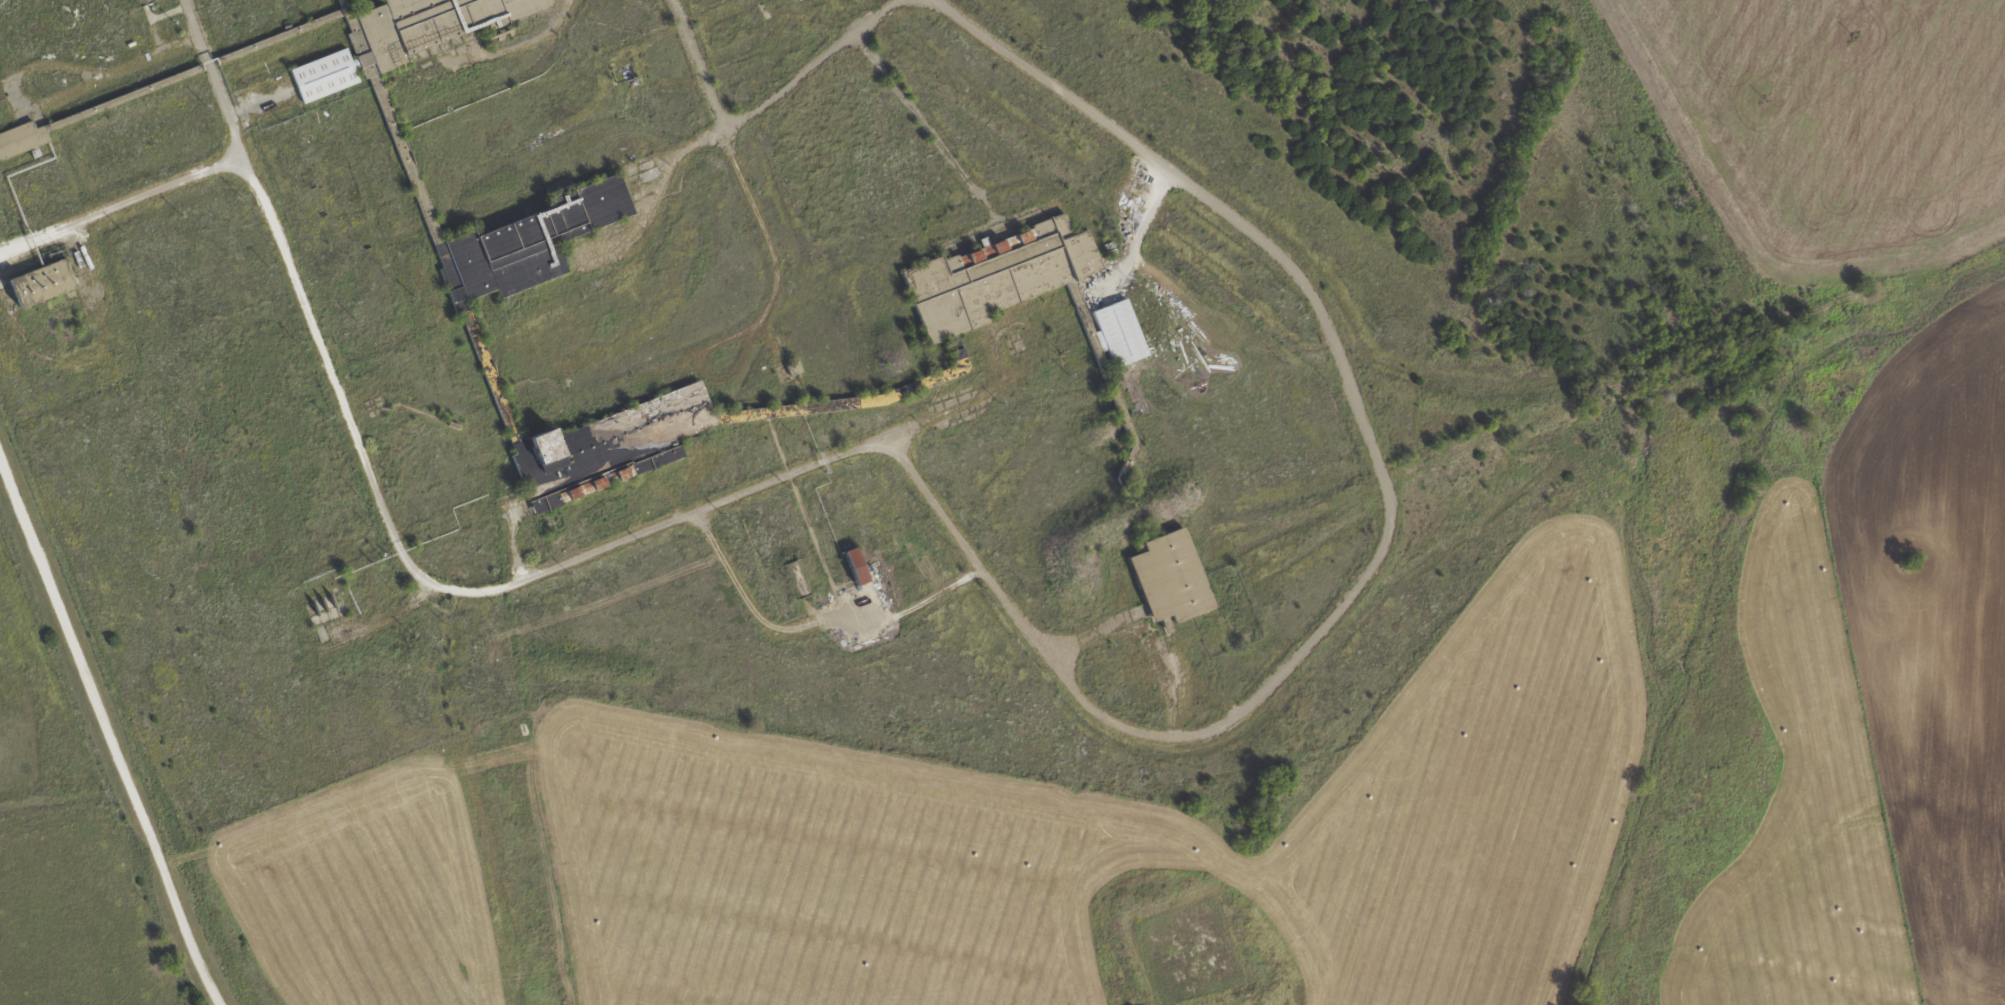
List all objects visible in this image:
building: (85, 1)
railway: (896, 36)
road: (502, 49)
road: (705, 76)
road: (775, 92)
road: (47, 98)
road: (259, 102)
road: (929, 125)
road: (122, 203)
railway: (1210, 273)
building: (39, 282)
building: (956, 317)
railway: (1601, 396)
road: (1386, 535)
road: (514, 537)
building: (853, 564)
road: (426, 577)
road: (762, 615)
road: (104, 730)

